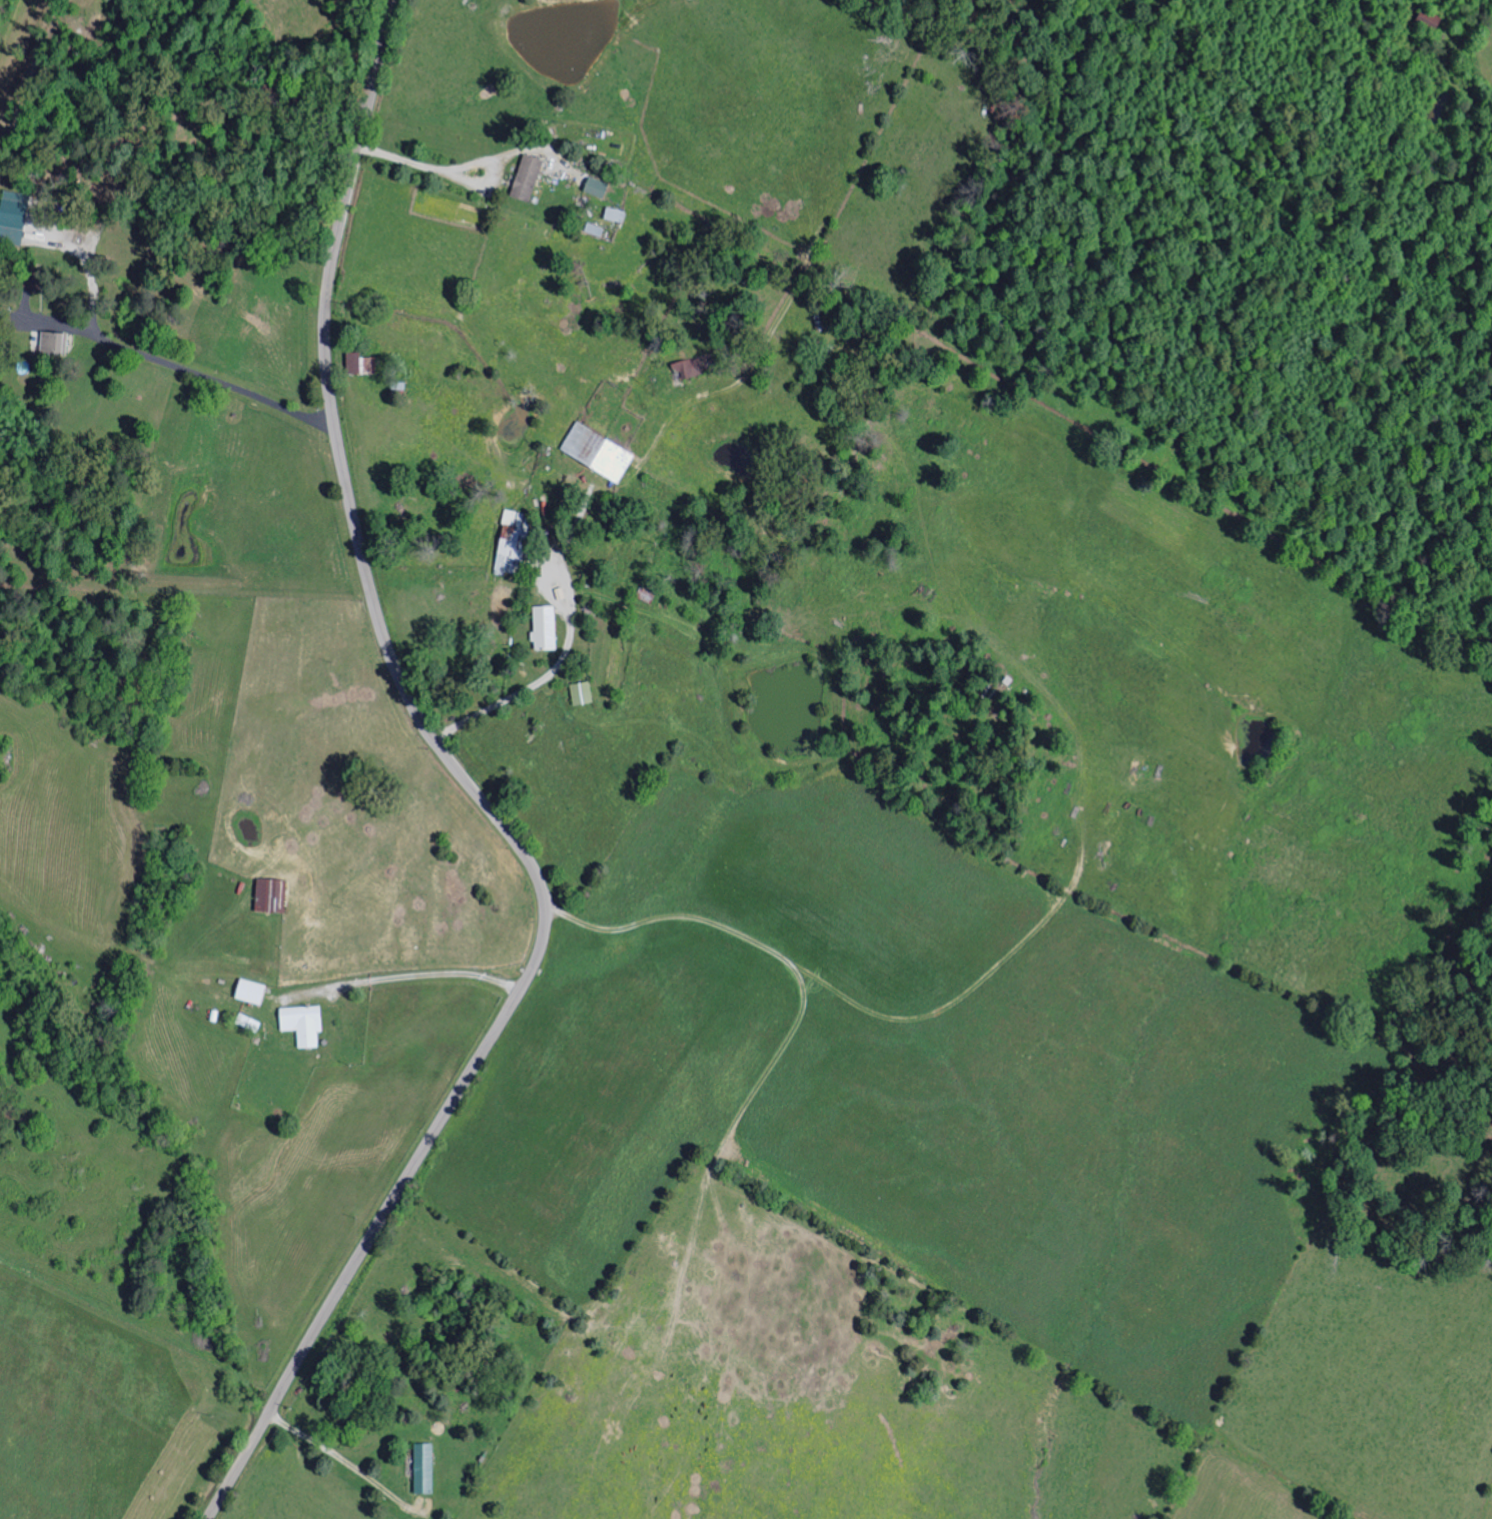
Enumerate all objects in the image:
building: (528, 177)
road: (457, 178)
building: (598, 187)
building: (616, 215)
building: (14, 216)
building: (55, 342)
building: (362, 364)
road: (203, 377)
building: (599, 452)
building: (514, 541)
building: (546, 628)
road: (571, 633)
road: (477, 794)
building: (273, 896)
road: (404, 980)
building: (253, 991)
building: (305, 1023)
road: (345, 1460)
building: (425, 1468)

